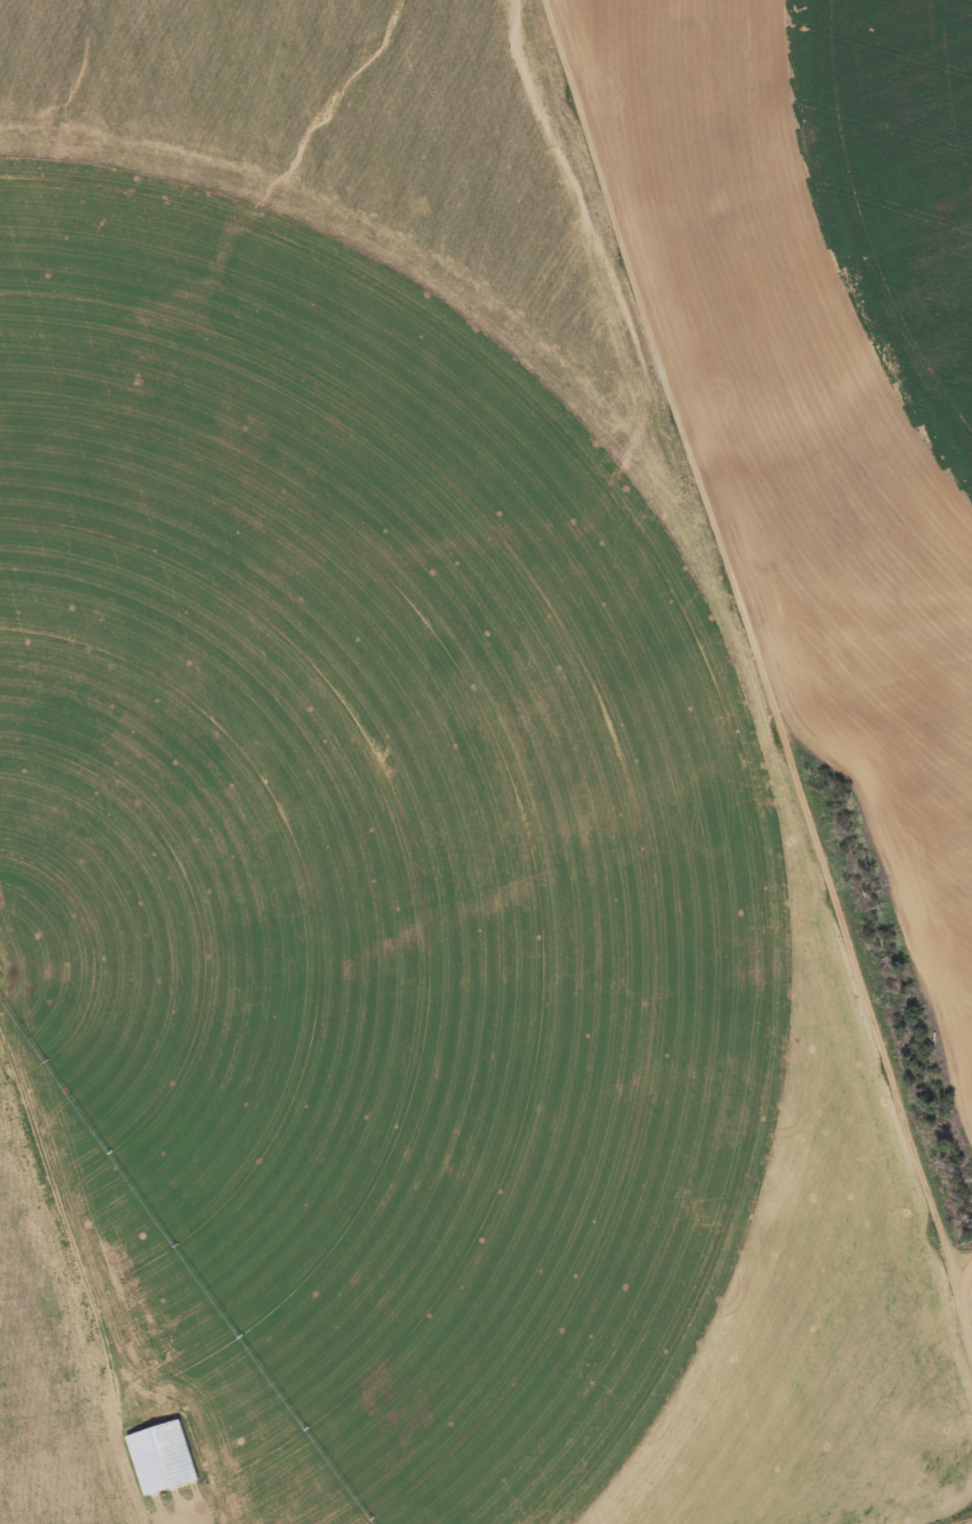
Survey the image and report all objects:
road: (142, 1156)
road: (959, 1308)
building: (167, 1460)

